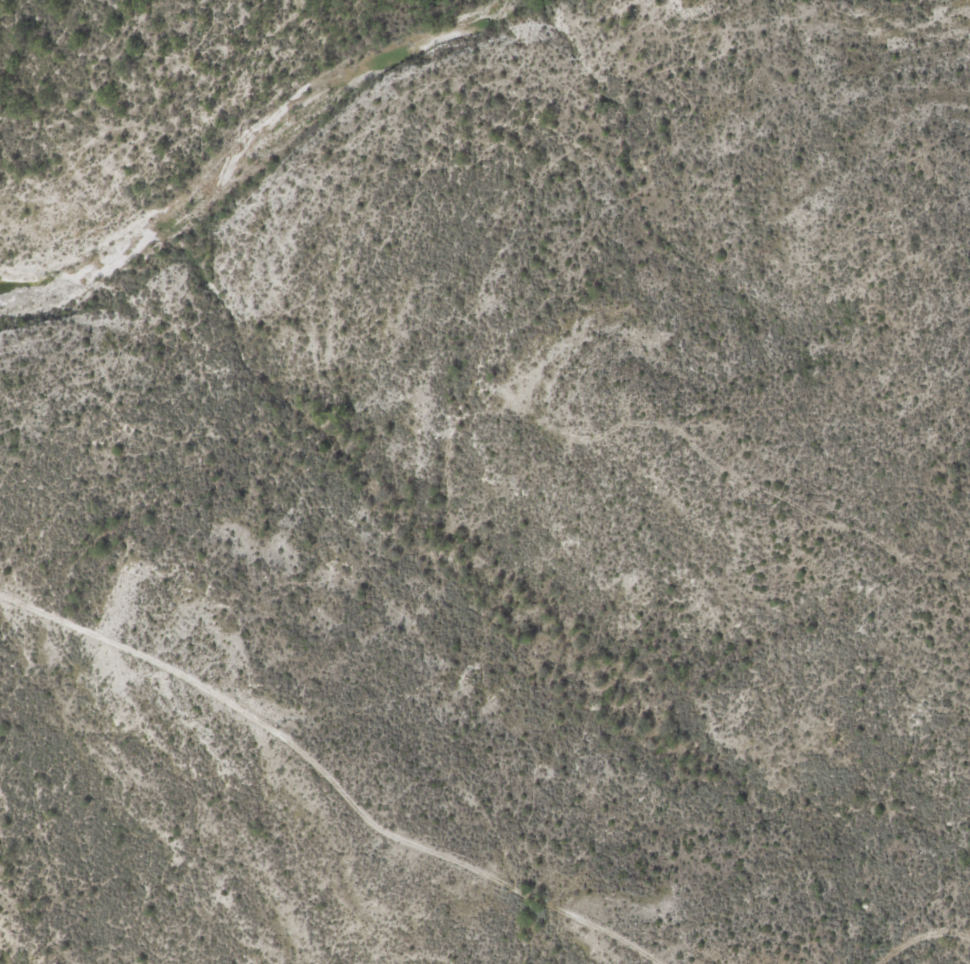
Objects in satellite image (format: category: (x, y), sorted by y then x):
road: (330, 778)
road: (925, 942)

